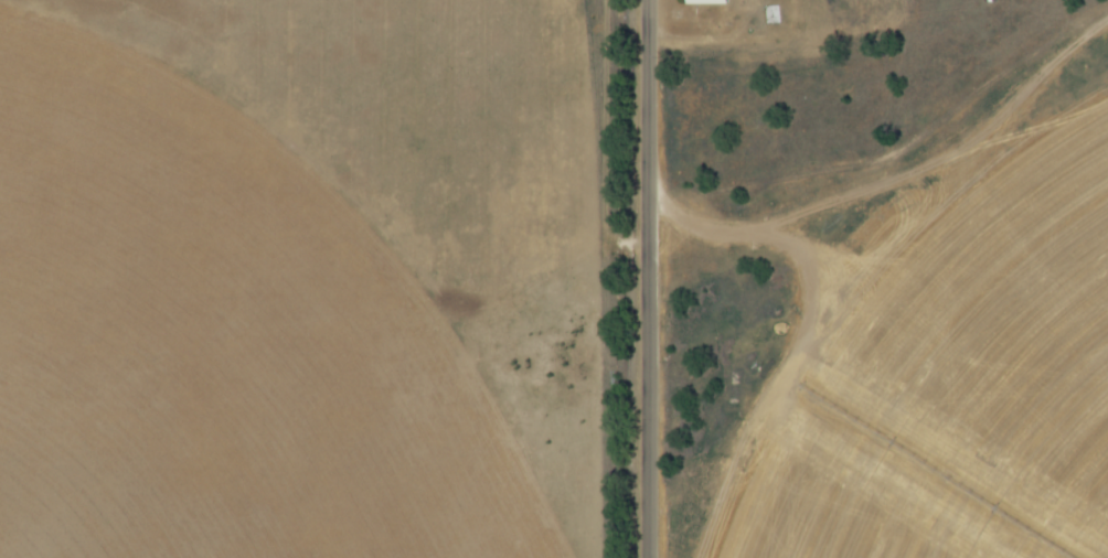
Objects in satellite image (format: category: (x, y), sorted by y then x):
building: (705, 2)
road: (652, 279)

